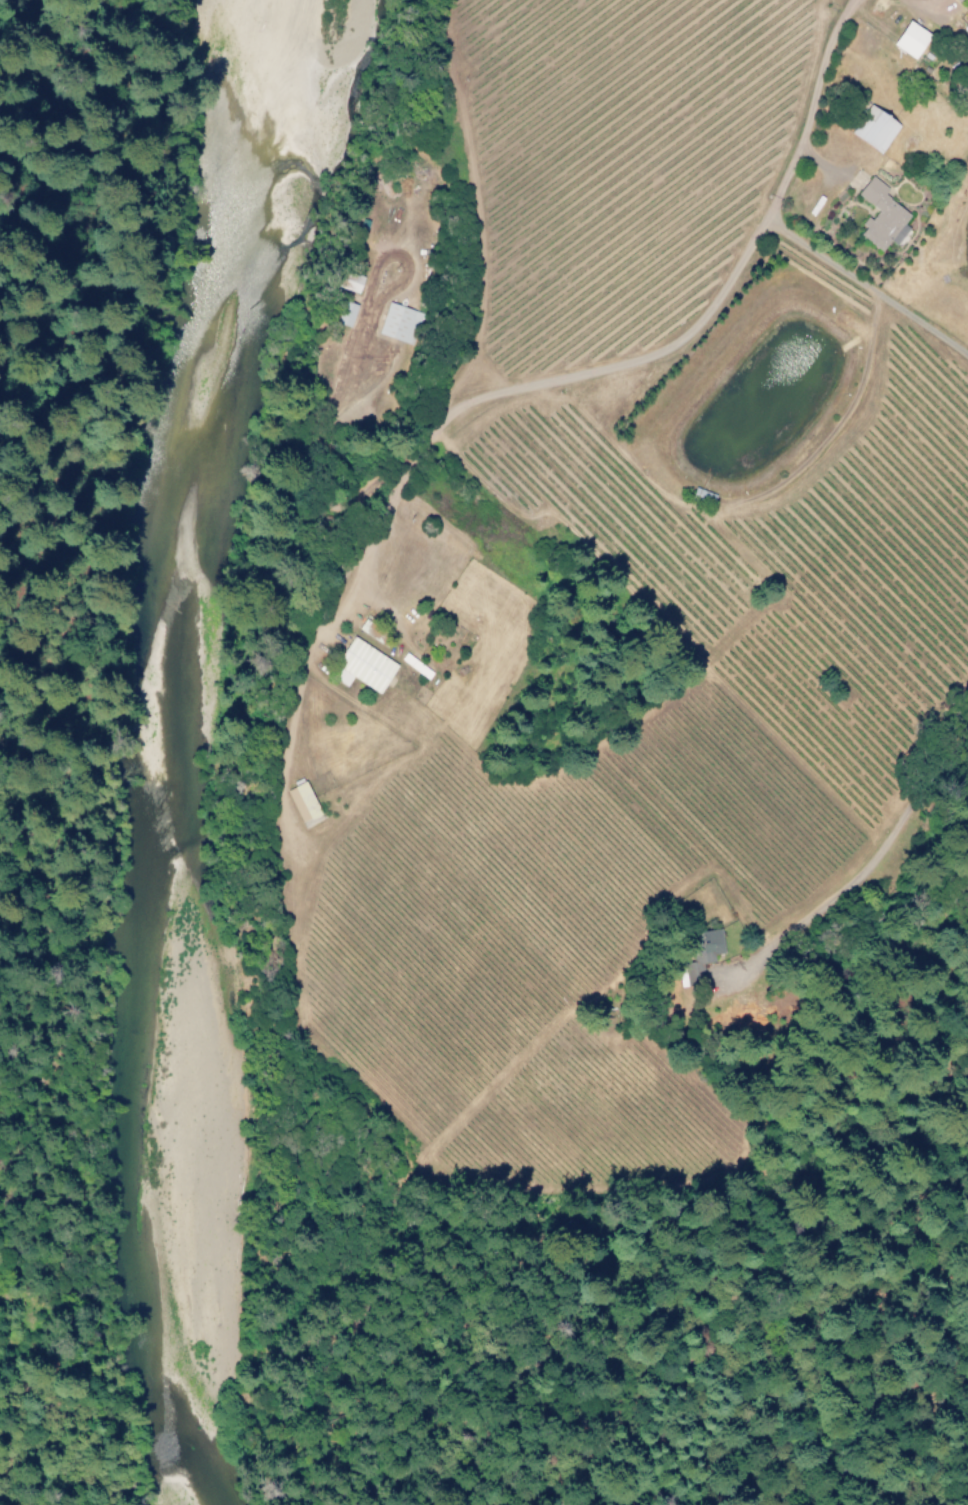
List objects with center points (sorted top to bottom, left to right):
building: (909, 40)
road: (64, 118)
building: (874, 129)
building: (881, 215)
building: (347, 280)
building: (345, 313)
building: (398, 323)
building: (367, 628)
building: (363, 666)
river: (166, 733)
building: (302, 802)
building: (699, 954)
road: (2, 1502)

